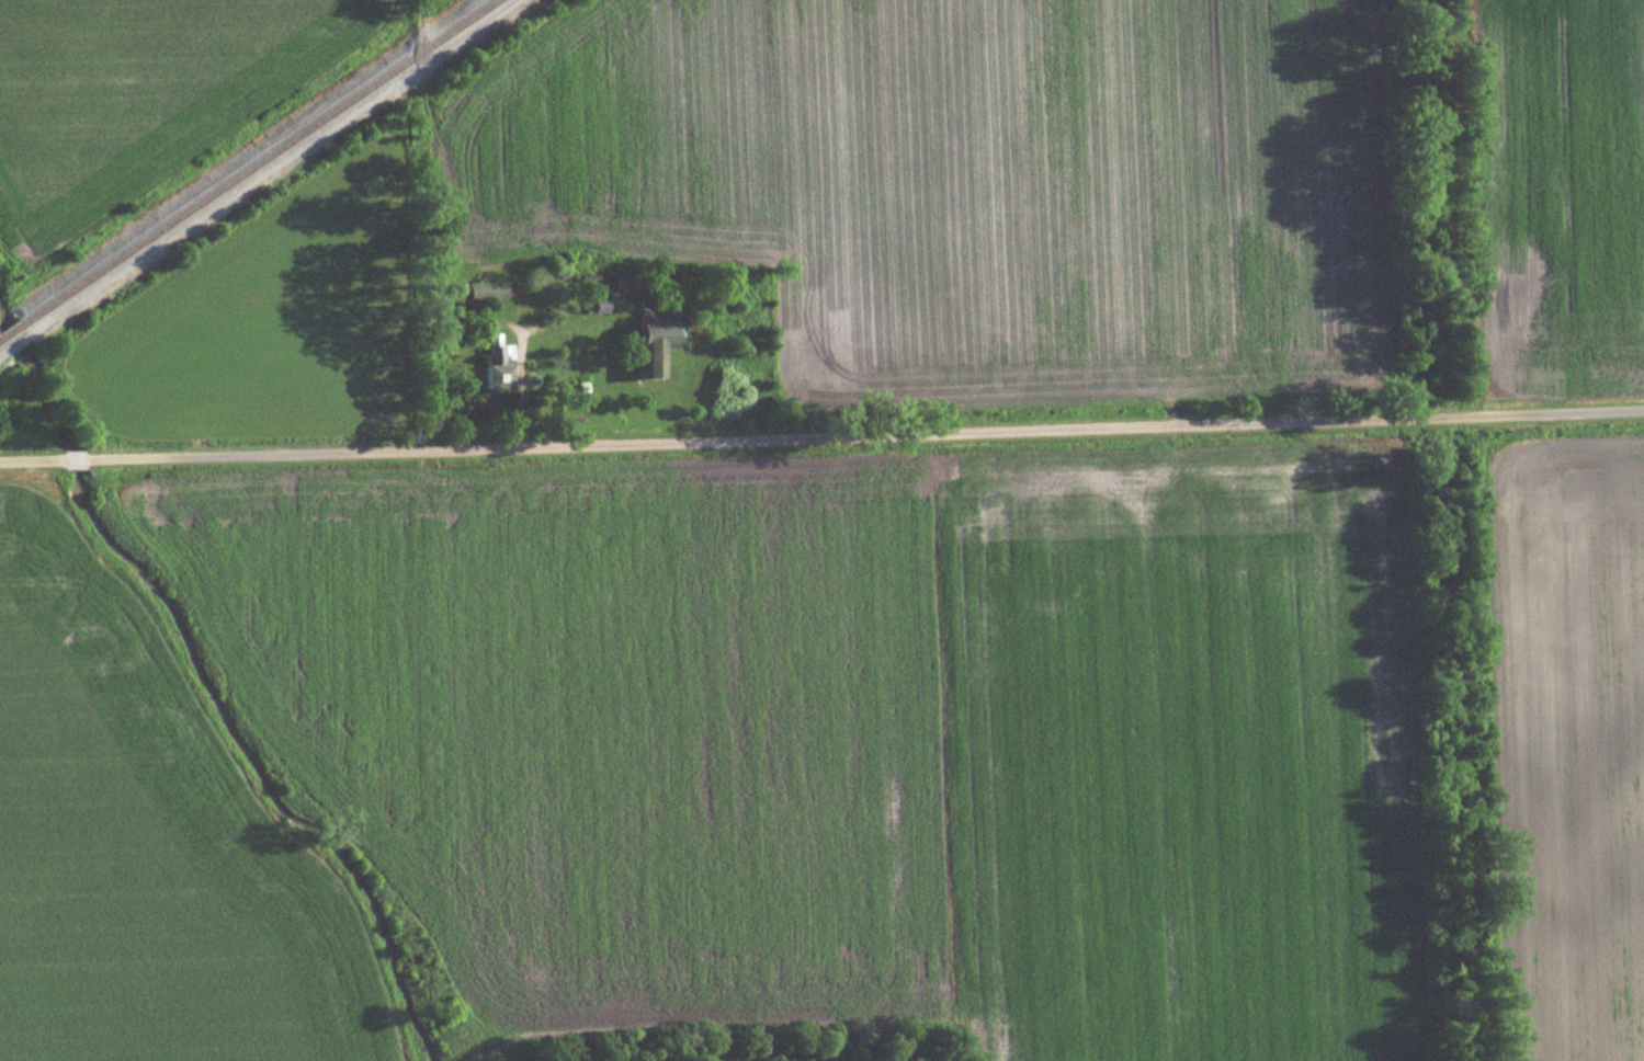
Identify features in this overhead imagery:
railway: (253, 163)
railway: (7, 331)
building: (655, 346)
building: (499, 374)
road: (865, 435)
road: (75, 459)
road: (31, 460)

